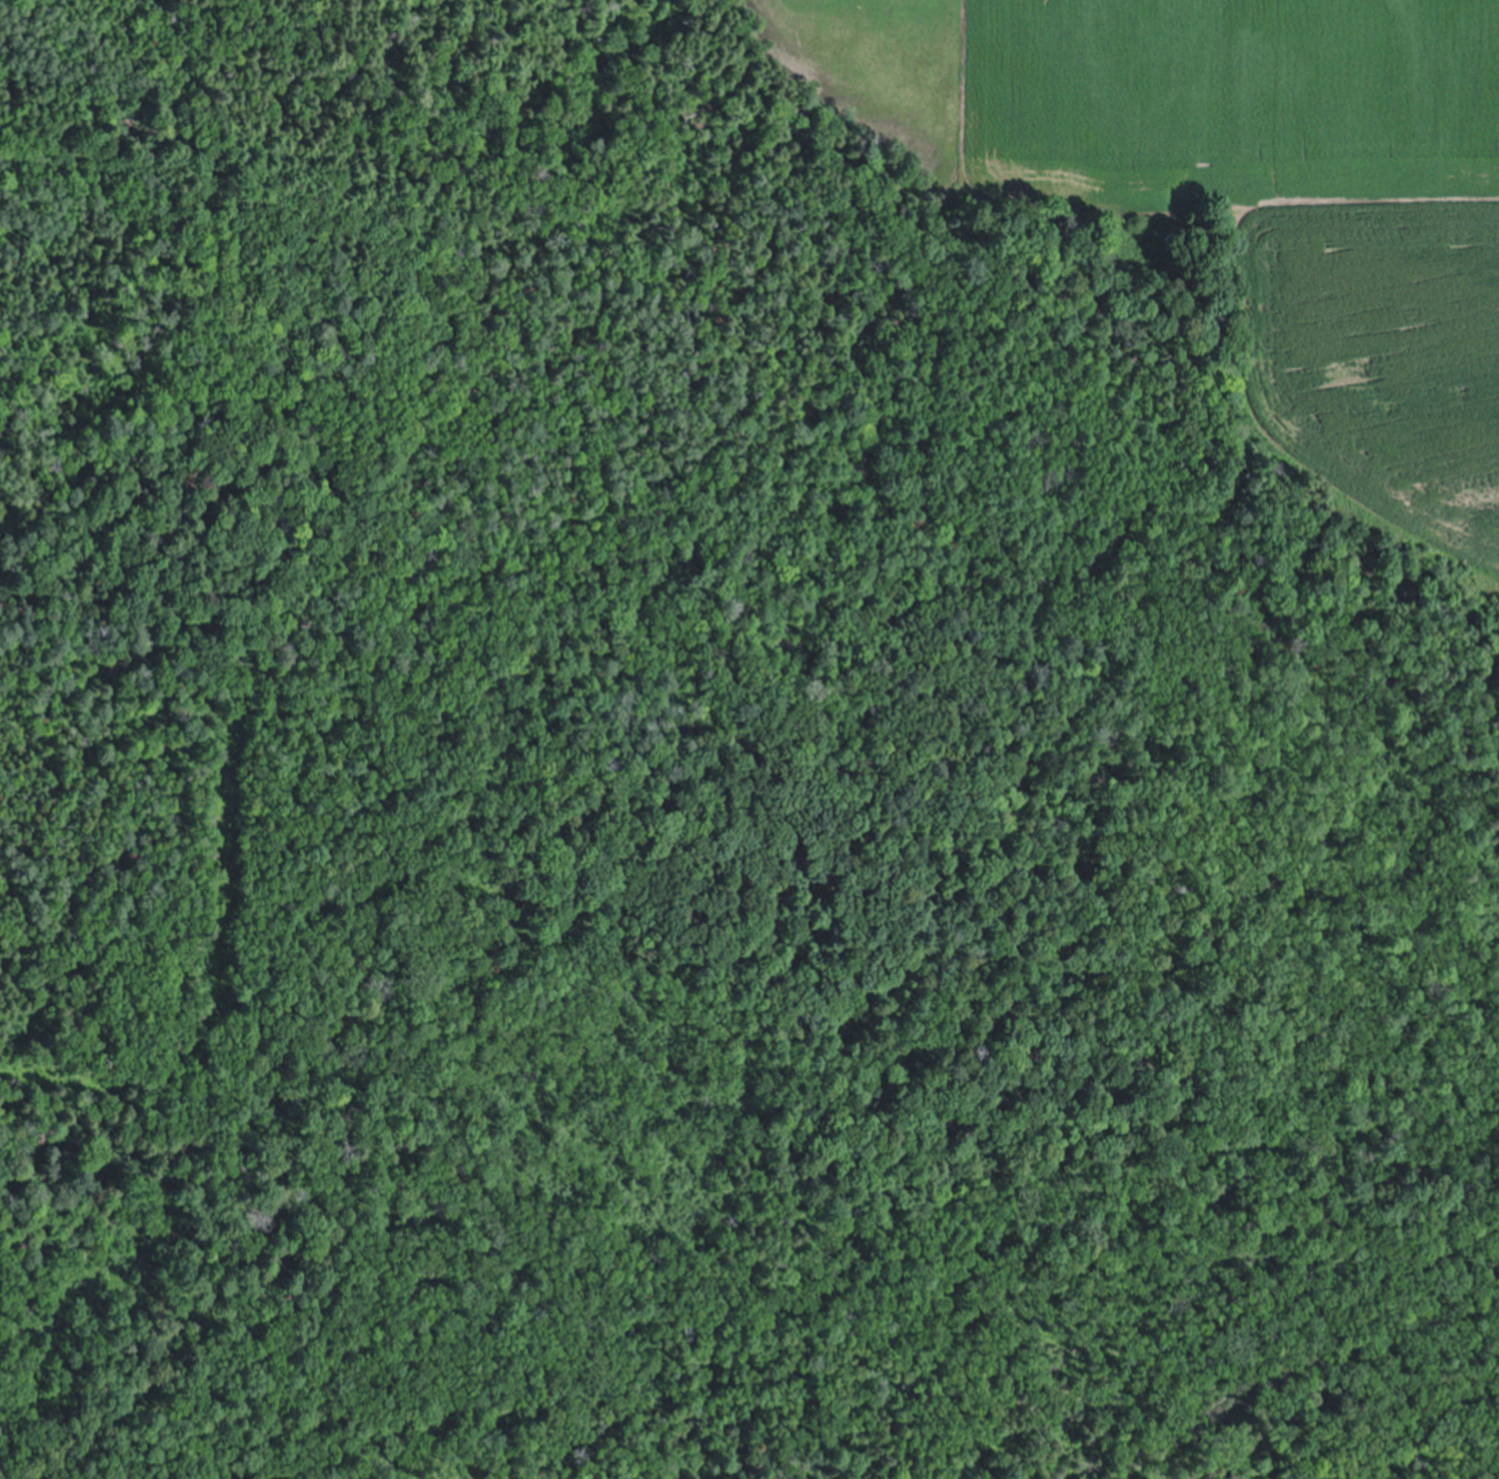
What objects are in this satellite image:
building: (1171, 234)

